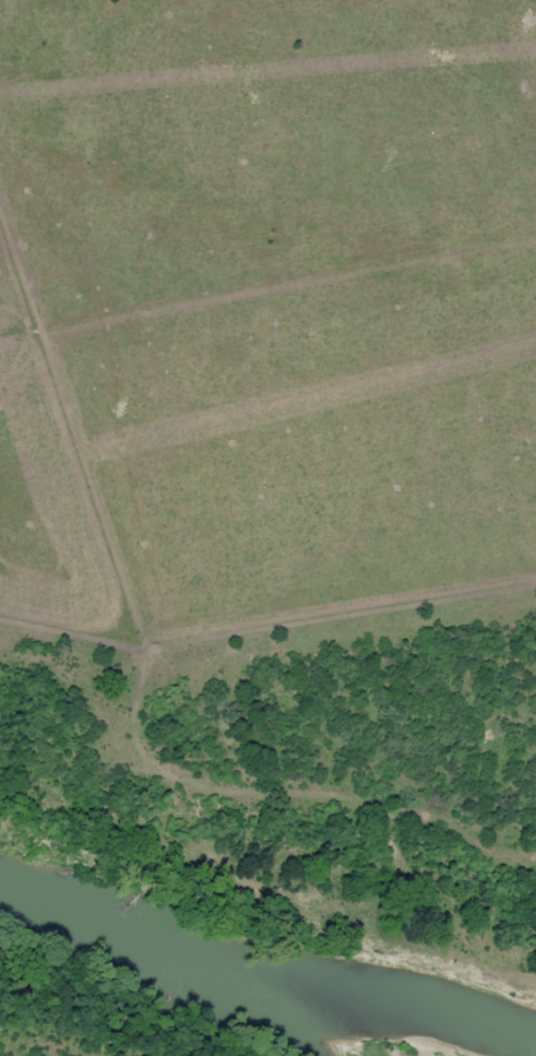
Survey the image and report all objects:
road: (250, 787)
river: (261, 989)

